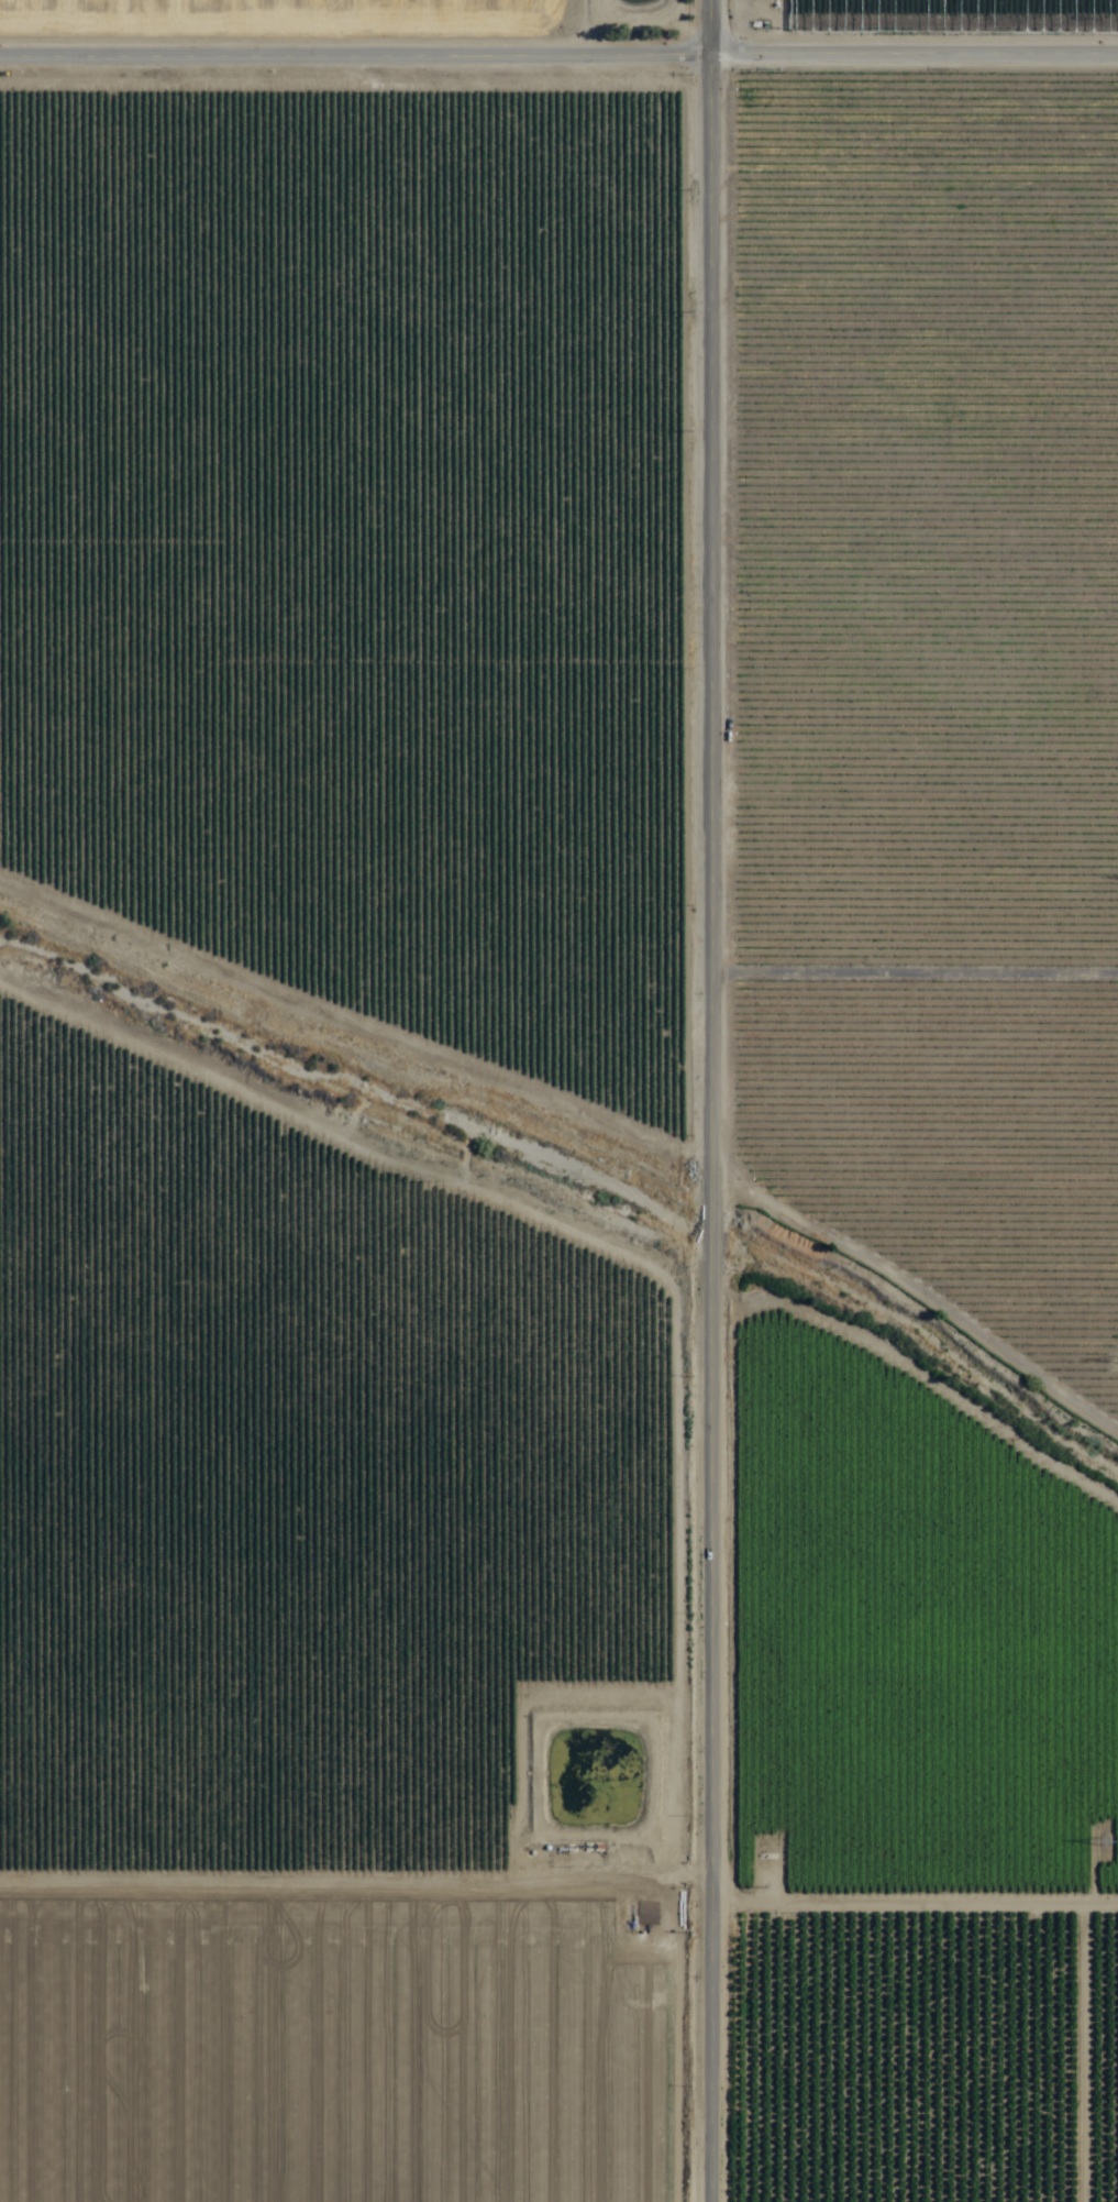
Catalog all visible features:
road: (558, 49)
crop: (541, 1054)
road: (716, 1100)
power tower: (1106, 1846)
road: (558, 1873)

